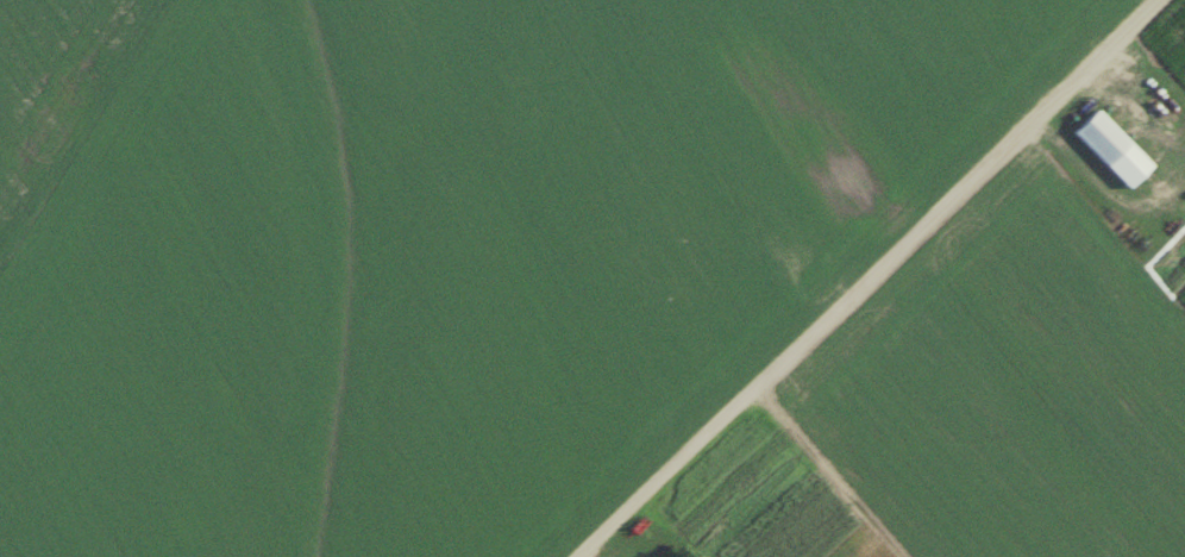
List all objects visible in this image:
building: (1111, 151)
road: (869, 278)

